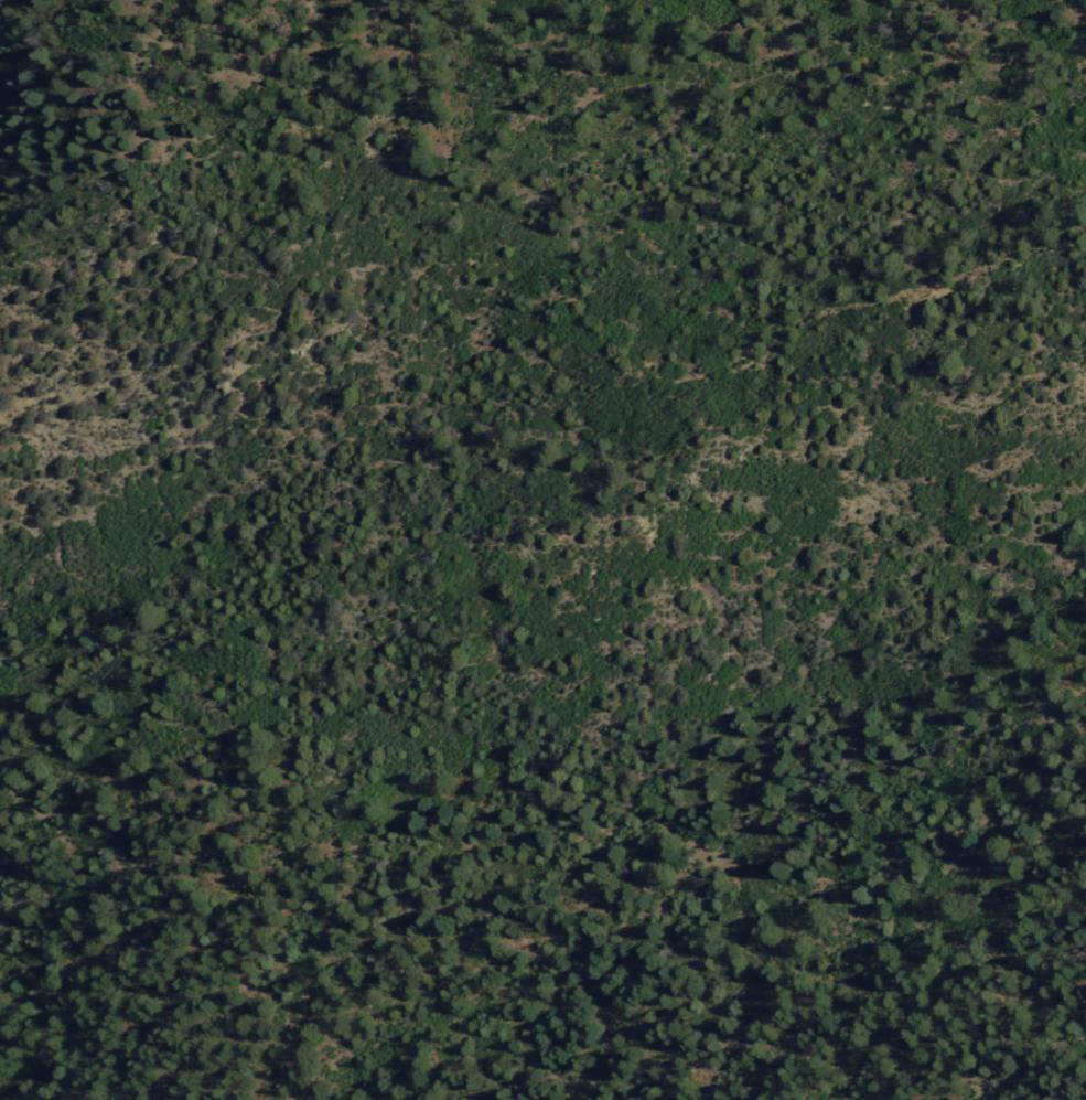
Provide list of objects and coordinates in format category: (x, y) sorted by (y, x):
road: (899, 1058)

